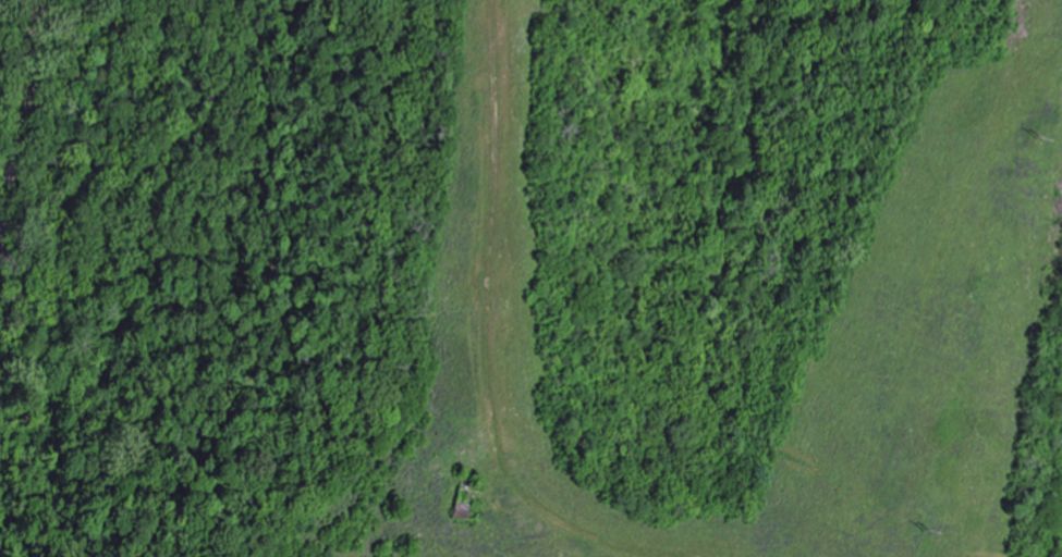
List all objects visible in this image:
railway: (26, 115)

